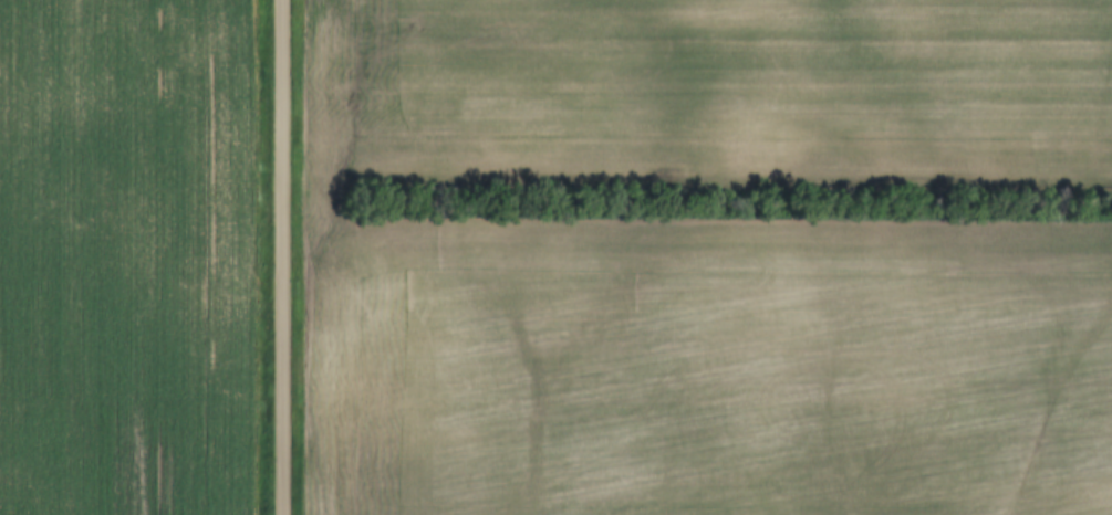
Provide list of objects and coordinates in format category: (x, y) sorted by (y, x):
road: (281, 257)

